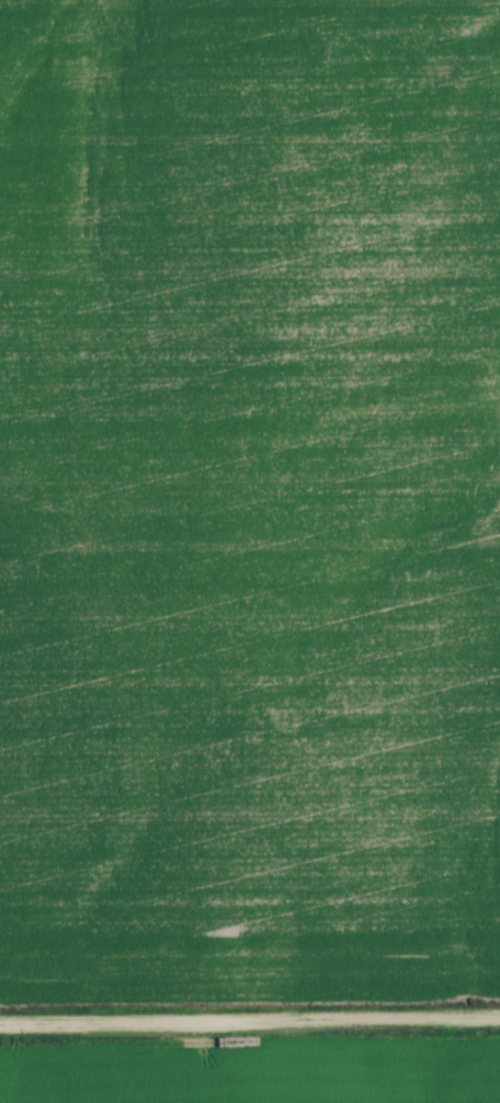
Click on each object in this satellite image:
road: (250, 1033)

